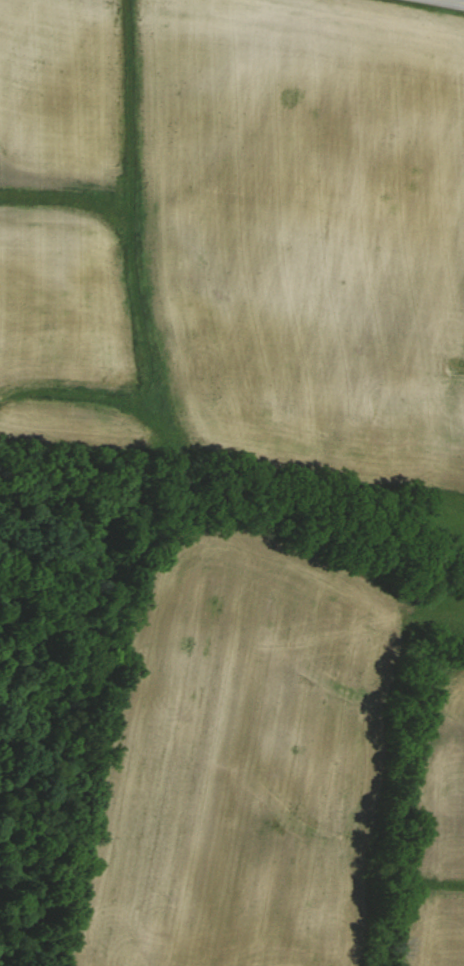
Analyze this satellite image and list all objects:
road: (451, 2)

